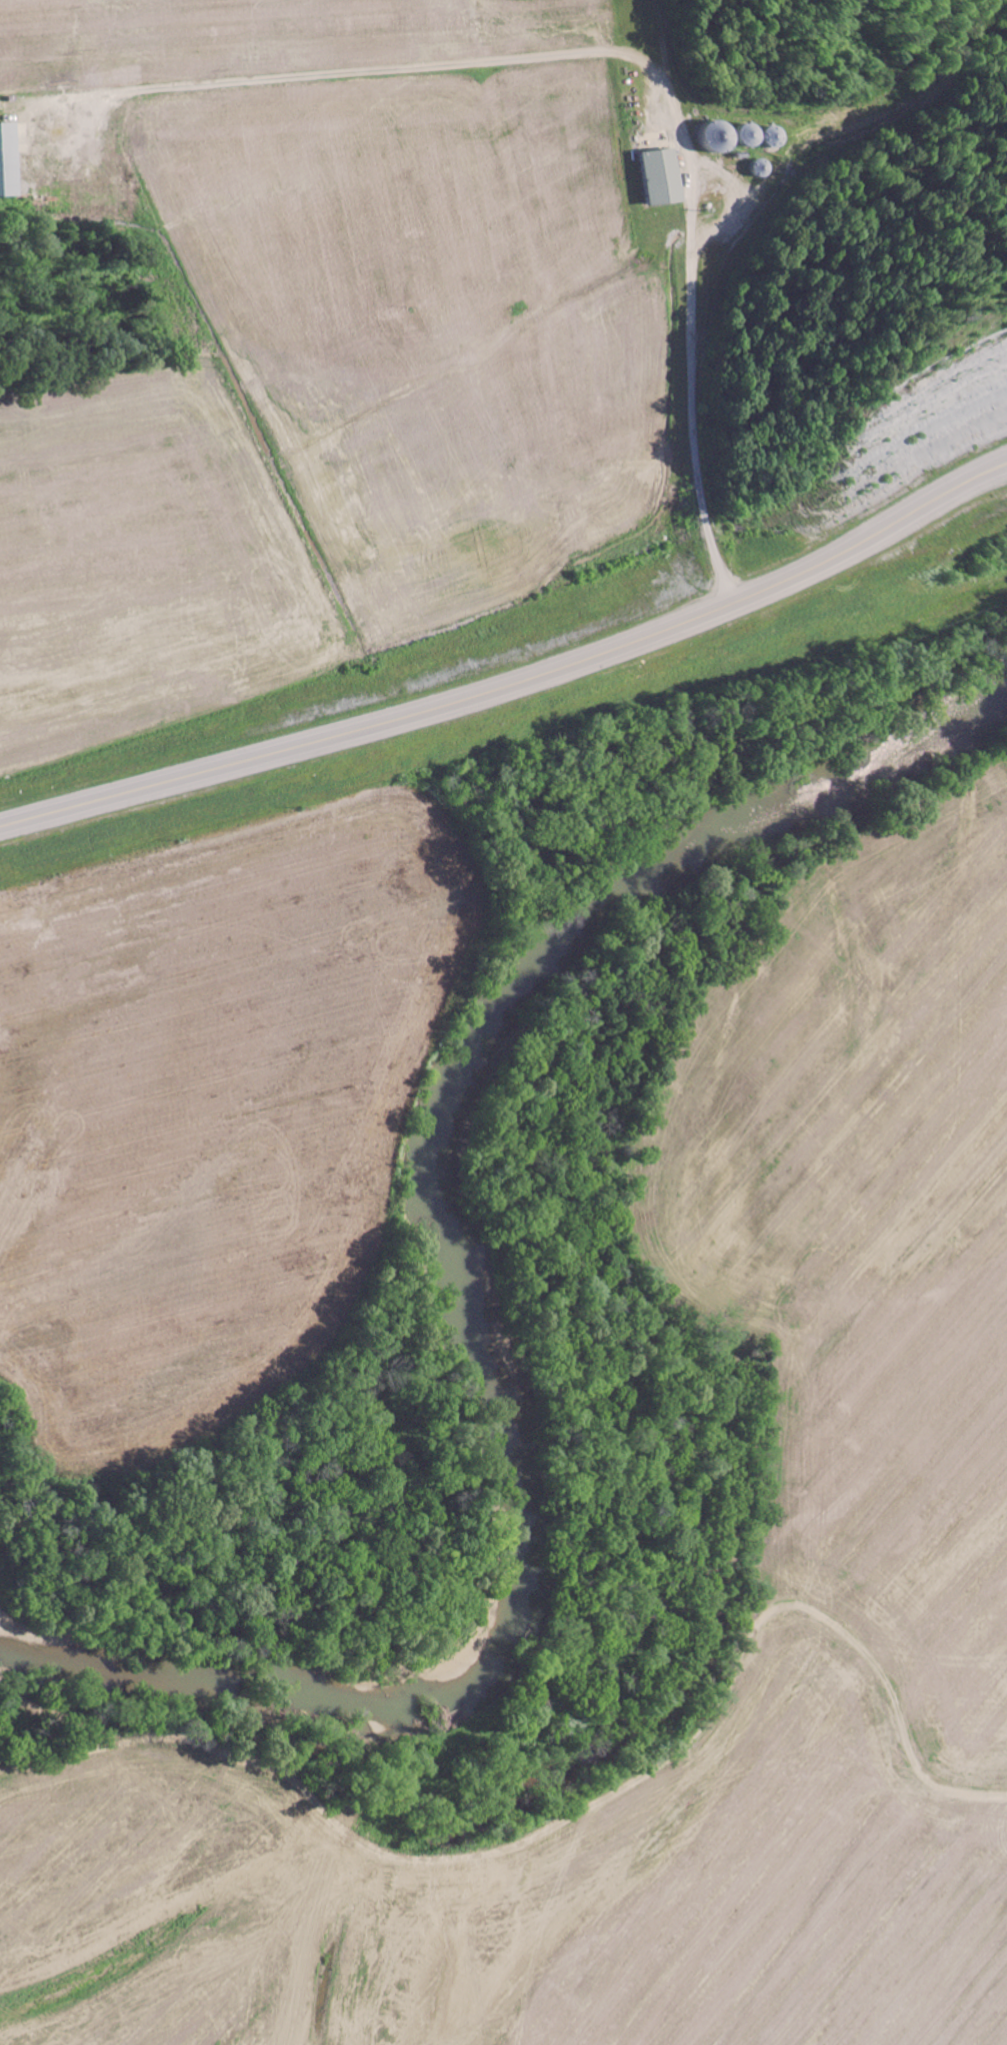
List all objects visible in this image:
road: (528, 137)
building: (5, 160)
building: (655, 176)
road: (515, 683)
river: (503, 1307)

